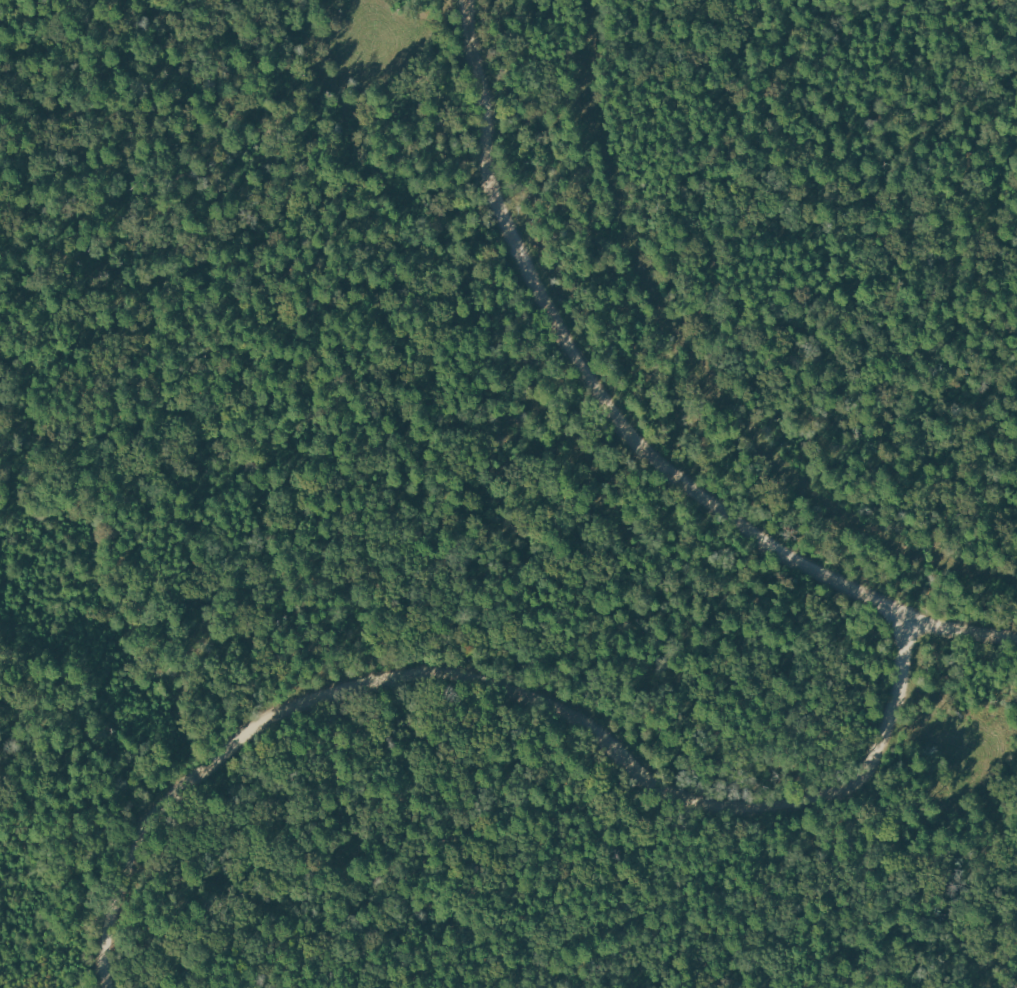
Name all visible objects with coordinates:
road: (94, 93)
road: (623, 424)
road: (355, 514)
road: (497, 681)

